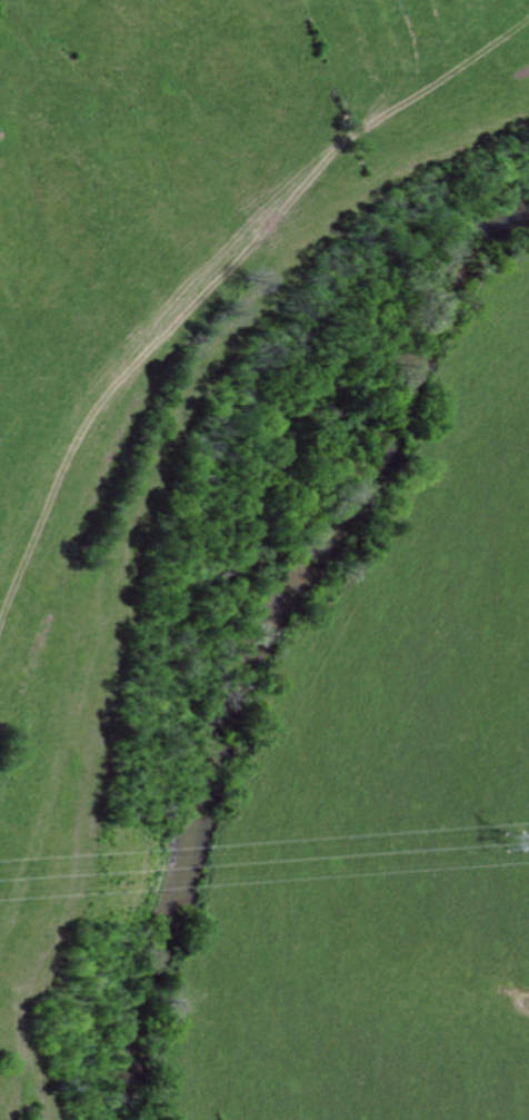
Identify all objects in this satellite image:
power tower: (519, 843)

